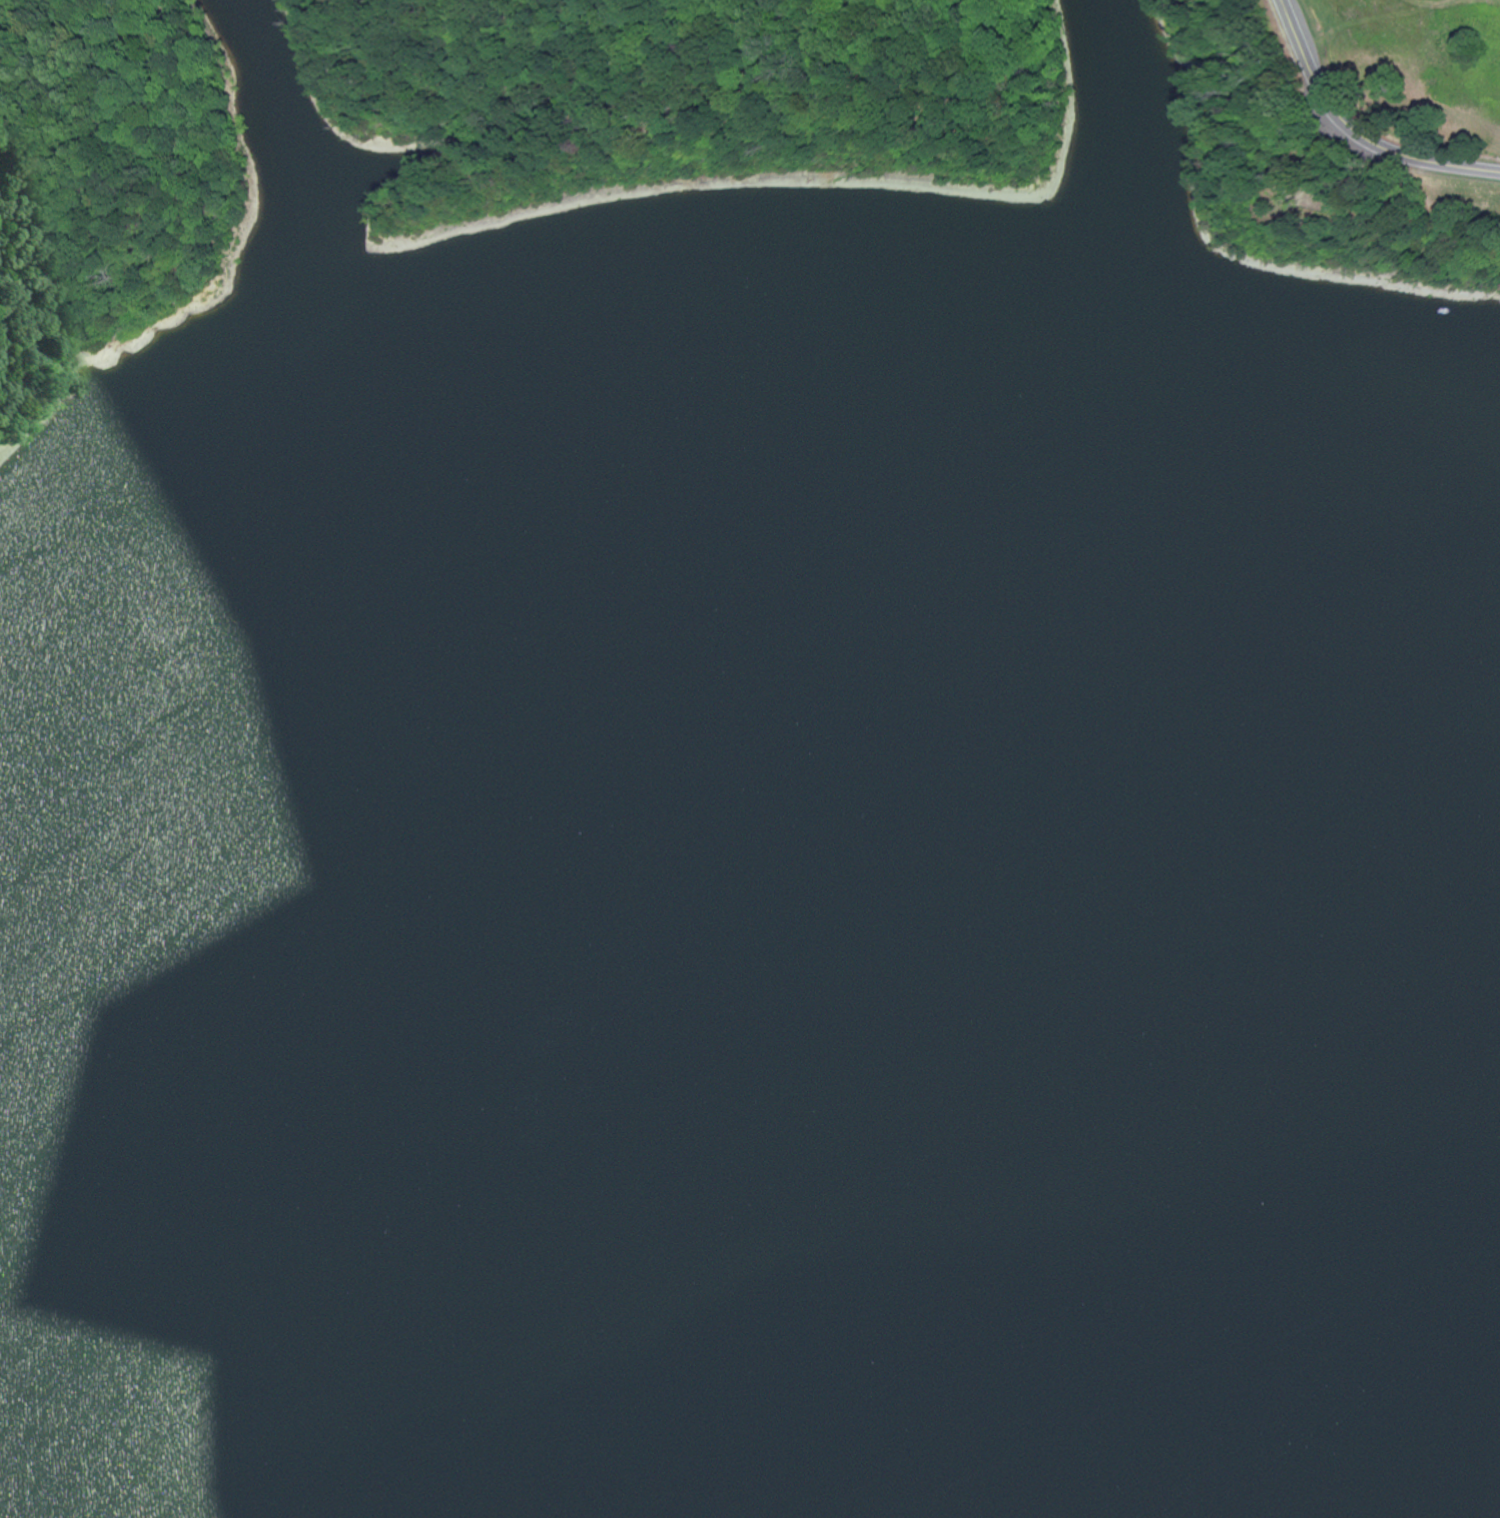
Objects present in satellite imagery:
park: (691, 95)
road: (1357, 132)
park: (1345, 133)
park: (112, 193)

